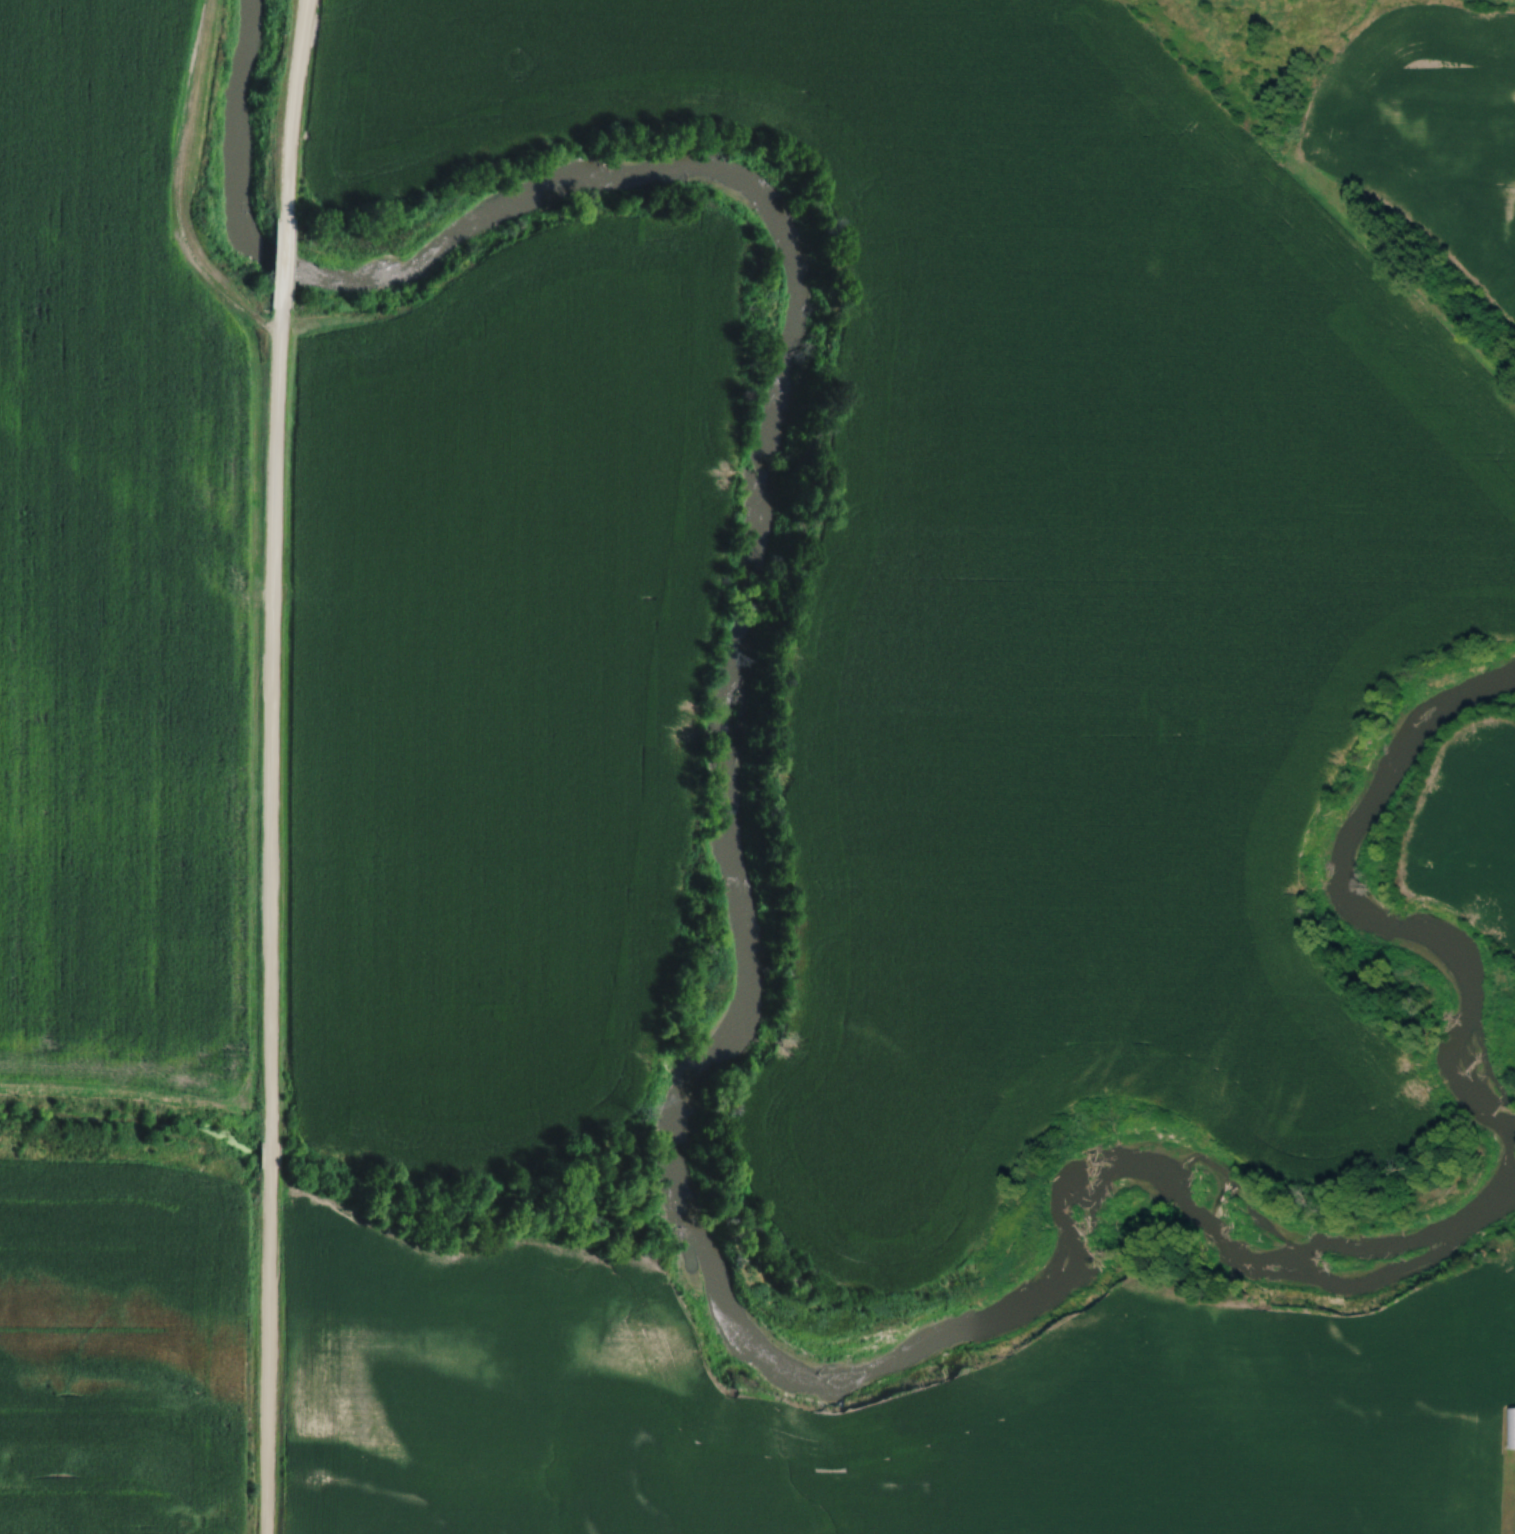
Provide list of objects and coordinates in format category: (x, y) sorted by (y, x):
road: (291, 108)
road: (282, 265)
road: (272, 924)
river: (684, 1136)
building: (1511, 1428)

